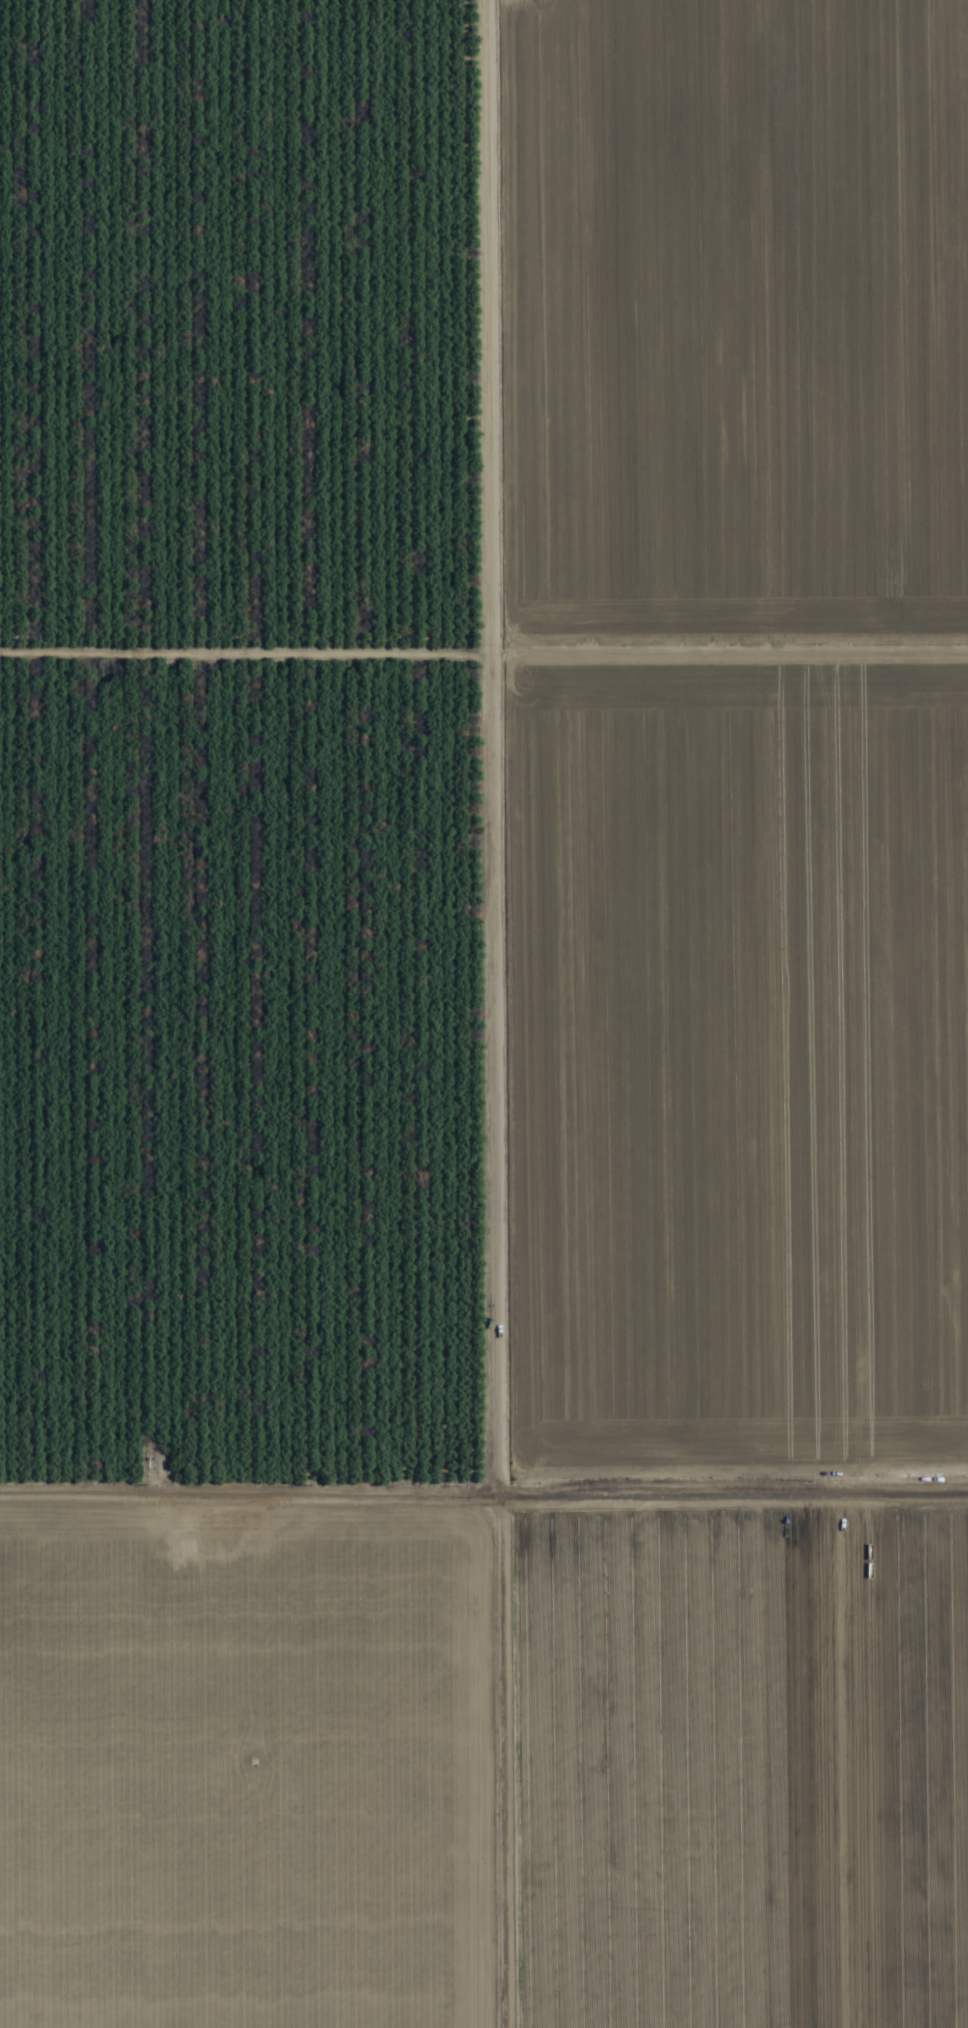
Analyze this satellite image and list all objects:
road: (466, 1014)
crop: (484, 1014)
road: (484, 1476)
wastewater plant: (545, 1551)

